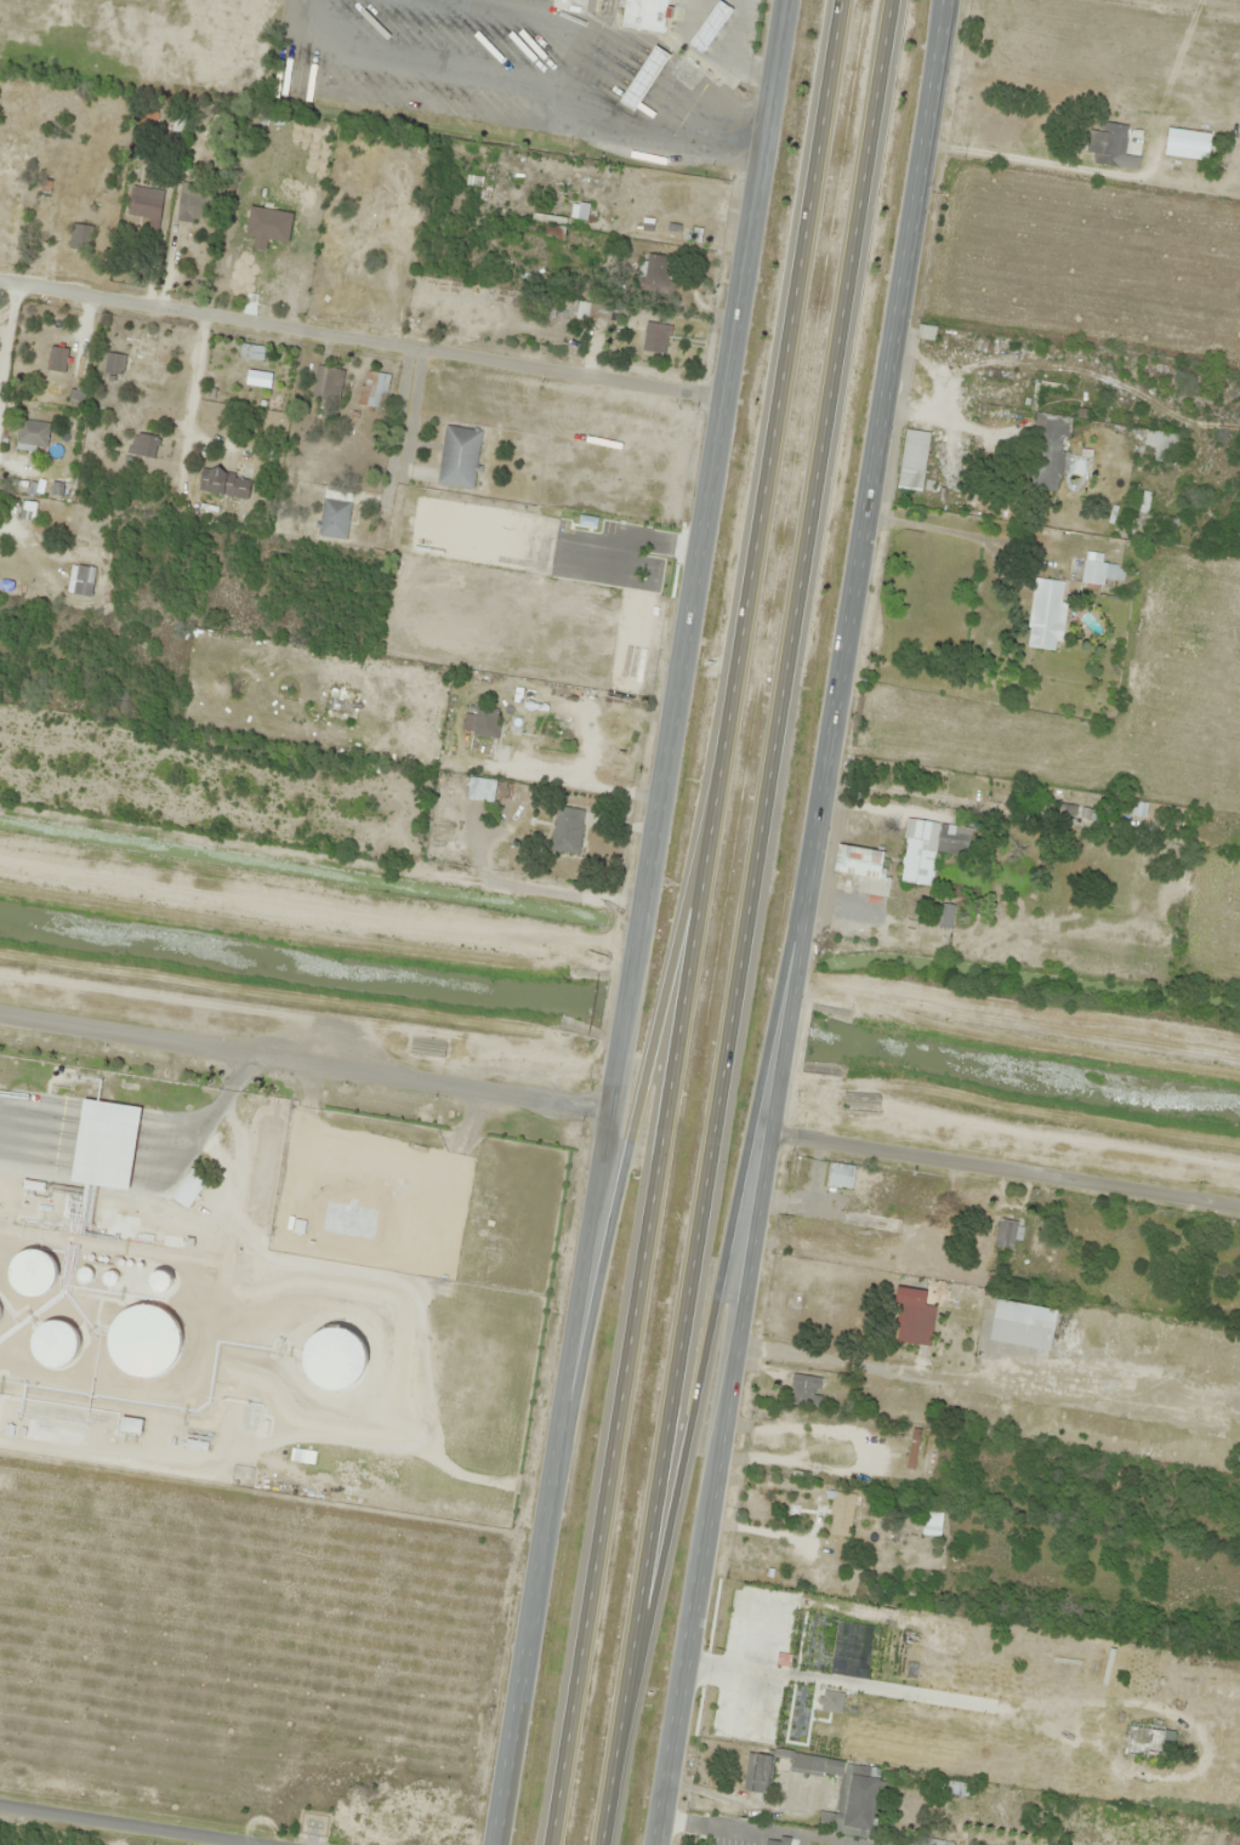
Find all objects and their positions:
building: (643, 13)
building: (709, 24)
building: (643, 78)
building: (1105, 142)
building: (1187, 144)
building: (144, 203)
building: (197, 203)
building: (79, 238)
building: (349, 254)
building: (656, 273)
building: (588, 303)
road: (7, 336)
road: (362, 337)
building: (655, 338)
building: (251, 352)
building: (57, 359)
building: (114, 364)
building: (326, 385)
building: (372, 389)
building: (32, 433)
building: (143, 445)
building: (1047, 450)
building: (459, 457)
building: (912, 460)
building: (226, 483)
building: (27, 511)
building: (332, 516)
building: (1093, 573)
building: (83, 581)
building: (1045, 614)
building: (480, 722)
building: (480, 790)
building: (1064, 809)
building: (567, 831)
building: (929, 848)
building: (858, 861)
building: (943, 916)
road: (644, 922)
road: (696, 922)
road: (746, 922)
road: (807, 923)
road: (306, 1063)
road: (642, 1086)
building: (98, 1143)
road: (144, 1143)
road: (1008, 1173)
building: (841, 1175)
building: (188, 1189)
building: (1005, 1234)
building: (36, 1276)
storage tank: (36, 1276)
road: (723, 1276)
building: (0, 1310)
building: (914, 1317)
building: (1017, 1329)
building: (45, 1339)
storage tank: (45, 1339)
building: (146, 1340)
storage tank: (146, 1340)
building: (328, 1362)
storage tank: (328, 1362)
building: (804, 1391)
building: (130, 1427)
building: (841, 1515)
building: (931, 1524)
building: (1145, 1739)
building: (757, 1772)
building: (955, 1788)
building: (844, 1789)
road: (181, 1821)
building: (777, 1840)
building: (1103, 1844)

